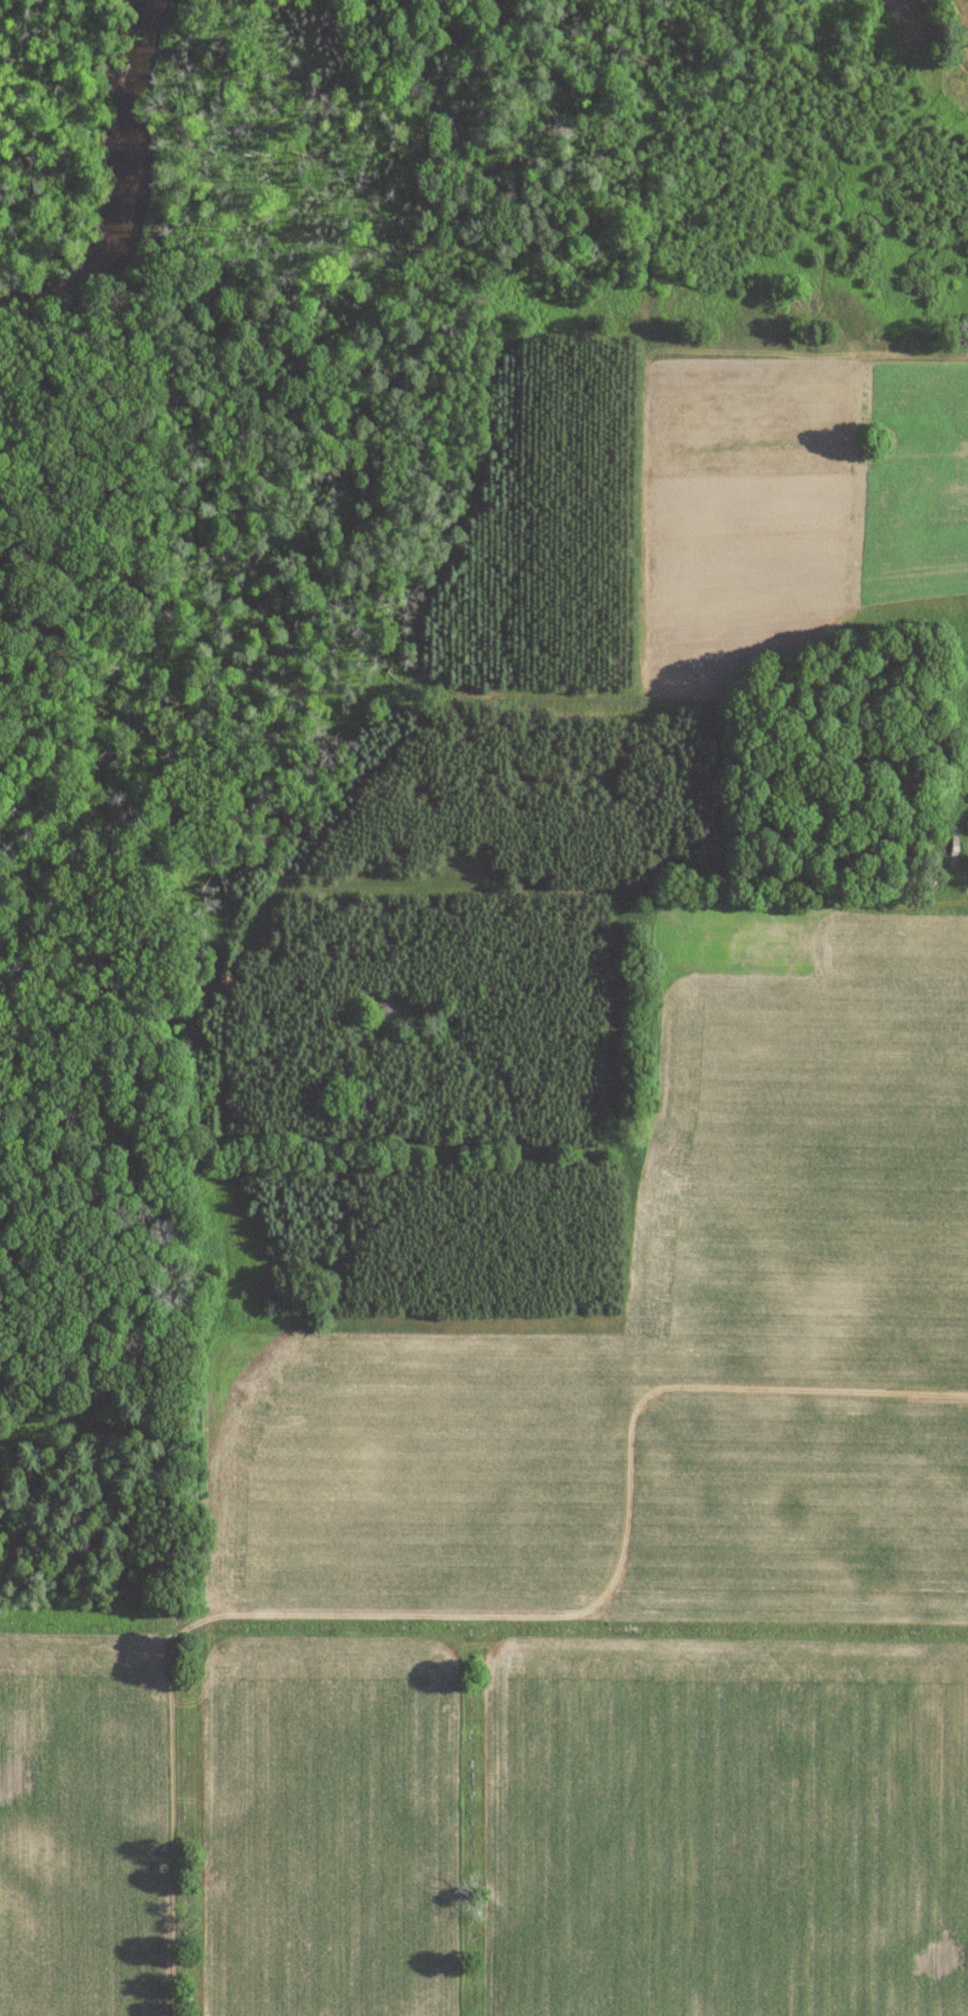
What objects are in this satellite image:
river: (130, 189)

